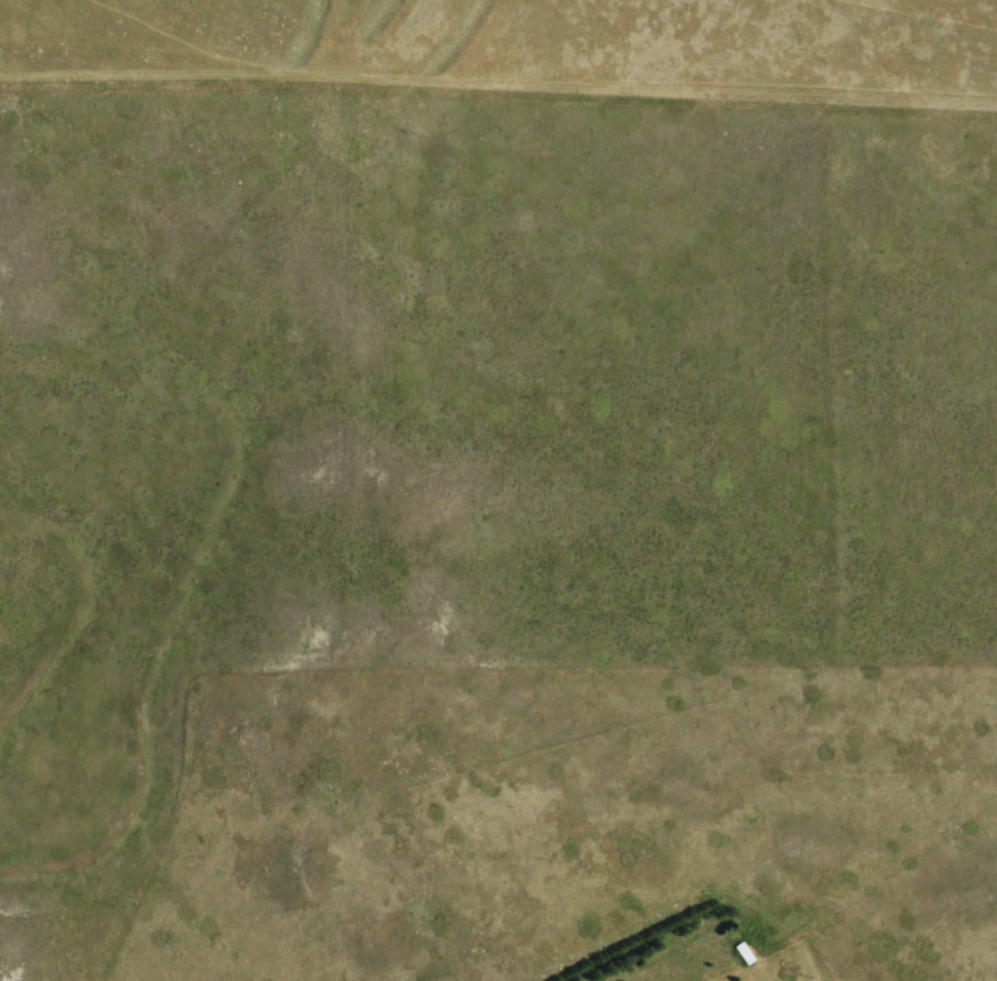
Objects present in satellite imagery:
building: (743, 951)

